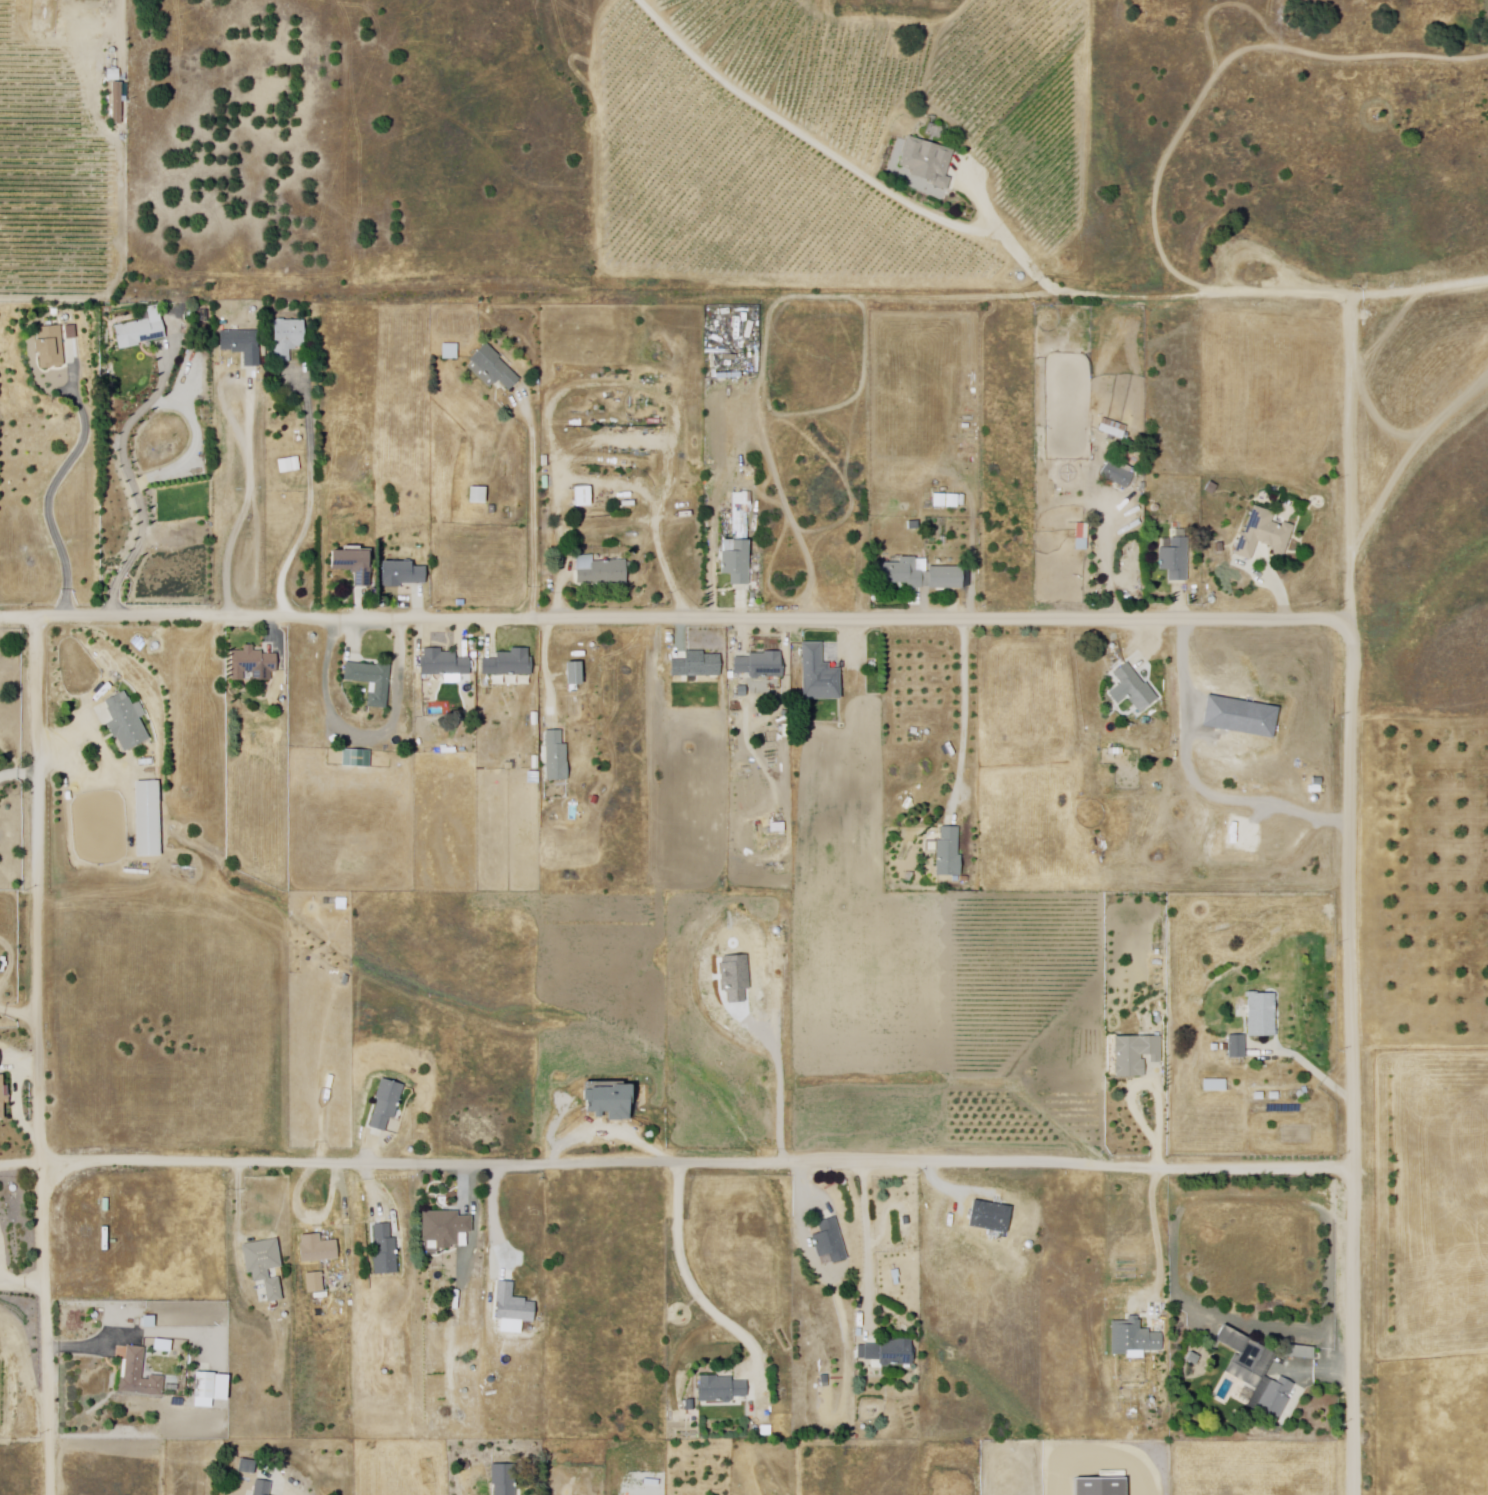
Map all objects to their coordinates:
building: (114, 72)
building: (119, 108)
road: (812, 141)
building: (927, 164)
road: (1011, 240)
road: (1420, 291)
road: (745, 294)
building: (140, 335)
building: (290, 339)
building: (244, 346)
building: (52, 348)
building: (450, 354)
building: (490, 370)
building: (1112, 431)
building: (291, 467)
building: (1118, 478)
road: (133, 483)
building: (1213, 491)
road: (51, 494)
building: (478, 497)
building: (583, 498)
road: (249, 502)
building: (940, 503)
building: (954, 503)
road: (311, 506)
building: (493, 511)
road: (533, 513)
building: (741, 518)
building: (914, 527)
building: (1264, 538)
building: (726, 541)
building: (1222, 547)
road: (1110, 562)
building: (1175, 563)
building: (736, 564)
building: (353, 569)
road: (672, 570)
building: (600, 573)
building: (901, 574)
building: (401, 577)
building: (945, 579)
road: (1282, 596)
road: (715, 601)
road: (675, 619)
road: (1152, 636)
building: (512, 665)
road: (851, 665)
building: (442, 666)
road: (550, 666)
building: (696, 666)
building: (762, 667)
building: (255, 668)
building: (574, 676)
building: (819, 679)
building: (370, 683)
building: (1136, 689)
road: (965, 714)
building: (128, 723)
building: (557, 759)
building: (355, 760)
road: (19, 775)
building: (149, 820)
building: (948, 855)
road: (1352, 895)
road: (18, 1013)
building: (1265, 1014)
building: (1238, 1046)
building: (1135, 1053)
road: (38, 1057)
road: (1317, 1072)
road: (1154, 1086)
building: (1210, 1086)
building: (610, 1097)
building: (2, 1098)
building: (387, 1101)
road: (609, 1132)
road: (21, 1163)
road: (700, 1163)
road: (365, 1171)
road: (465, 1184)
road: (240, 1201)
road: (345, 1222)
building: (446, 1226)
road: (3, 1234)
building: (831, 1238)
road: (1159, 1242)
road: (868, 1244)
building: (318, 1248)
building: (384, 1250)
building: (264, 1264)
building: (315, 1281)
road: (20, 1284)
road: (695, 1286)
building: (511, 1306)
building: (1135, 1337)
building: (1301, 1350)
building: (893, 1352)
building: (1194, 1356)
building: (1258, 1370)
building: (139, 1374)
building: (205, 1384)
building: (723, 1386)
building: (691, 1403)
building: (247, 1464)
building: (506, 1478)
building: (265, 1487)
building: (1101, 1487)

